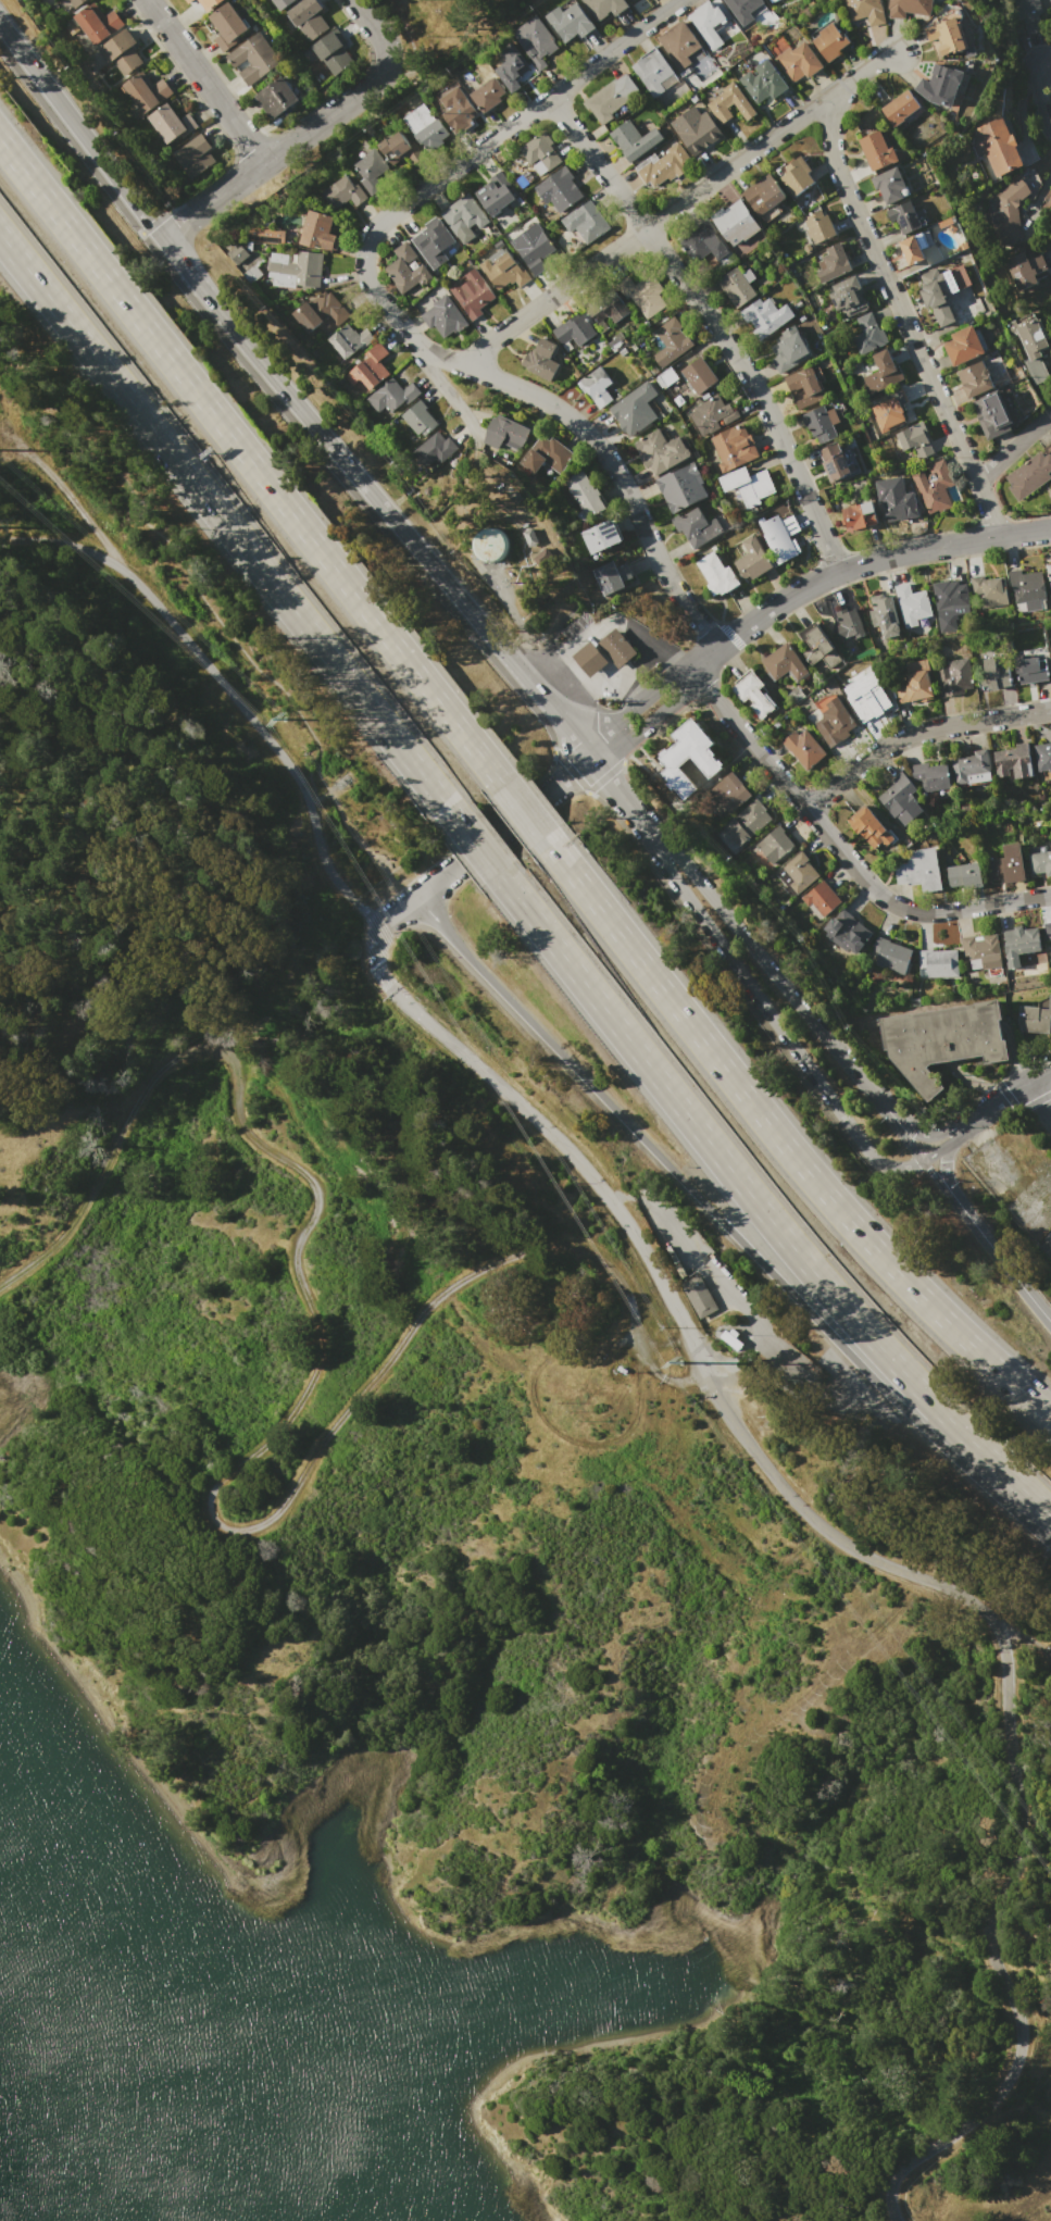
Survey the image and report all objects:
building: (188, 1)
building: (772, 1)
building: (73, 3)
building: (281, 3)
building: (210, 4)
building: (605, 8)
building: (906, 8)
building: (742, 9)
building: (866, 10)
building: (1028, 14)
building: (306, 18)
building: (571, 22)
building: (97, 24)
building: (709, 24)
building: (227, 26)
building: (946, 37)
building: (535, 40)
building: (830, 40)
building: (679, 45)
building: (969, 51)
building: (122, 52)
building: (333, 52)
building: (253, 58)
building: (798, 62)
building: (510, 66)
building: (652, 72)
road: (202, 80)
building: (763, 82)
building: (940, 85)
building: (146, 92)
building: (488, 93)
building: (277, 97)
building: (613, 98)
road: (1037, 99)
building: (730, 103)
building: (900, 107)
building: (458, 109)
building: (417, 117)
building: (166, 122)
building: (189, 122)
road: (303, 129)
building: (367, 129)
building: (696, 129)
building: (431, 135)
building: (634, 139)
building: (1000, 146)
building: (399, 149)
building: (540, 150)
building: (876, 150)
building: (195, 155)
building: (664, 165)
building: (370, 171)
building: (498, 176)
building: (797, 176)
building: (521, 182)
building: (889, 184)
building: (559, 189)
building: (342, 192)
building: (764, 194)
building: (493, 196)
road: (675, 204)
building: (1010, 210)
building: (463, 216)
building: (904, 217)
building: (585, 221)
building: (944, 222)
building: (735, 223)
building: (818, 227)
building: (317, 230)
building: (266, 235)
building: (698, 239)
building: (433, 241)
building: (498, 244)
building: (252, 247)
building: (531, 247)
building: (912, 250)
building: (237, 253)
building: (834, 263)
building: (295, 269)
building: (405, 269)
building: (253, 270)
building: (1023, 270)
building: (503, 271)
building: (736, 286)
building: (942, 290)
building: (472, 294)
building: (642, 294)
building: (848, 297)
building: (605, 304)
building: (329, 308)
road: (898, 311)
building: (308, 316)
road: (392, 316)
building: (443, 316)
building: (765, 316)
road: (710, 323)
building: (574, 330)
building: (867, 334)
building: (349, 339)
building: (670, 340)
building: (964, 345)
building: (789, 349)
building: (1033, 352)
building: (540, 359)
building: (376, 360)
building: (881, 372)
building: (362, 375)
building: (699, 375)
road: (433, 376)
building: (665, 377)
building: (974, 379)
building: (596, 386)
building: (803, 387)
building: (392, 395)
road: (287, 396)
building: (634, 409)
building: (712, 413)
road: (1048, 413)
building: (888, 414)
building: (992, 414)
building: (420, 419)
building: (821, 424)
building: (509, 429)
building: (916, 440)
building: (734, 446)
road: (1011, 446)
building: (435, 449)
building: (659, 450)
building: (547, 454)
road: (251, 462)
building: (837, 467)
building: (1030, 474)
building: (748, 484)
building: (933, 485)
building: (681, 487)
building: (585, 494)
building: (900, 506)
building: (860, 514)
building: (696, 526)
road: (228, 527)
building: (780, 535)
building: (602, 536)
building: (534, 537)
building: (493, 544)
water tower: (490, 548)
road: (80, 549)
building: (752, 560)
road: (855, 565)
building: (716, 574)
building: (1049, 574)
building: (612, 576)
building: (989, 590)
building: (1027, 590)
building: (949, 602)
building: (911, 604)
road: (609, 615)
building: (884, 615)
building: (848, 623)
road: (223, 627)
building: (616, 647)
building: (817, 648)
building: (589, 658)
gas station: (589, 658)
road: (676, 660)
building: (781, 662)
building: (1031, 665)
road: (208, 667)
building: (993, 675)
building: (953, 677)
building: (916, 682)
building: (750, 694)
building: (869, 701)
road: (631, 706)
power tower: (283, 719)
building: (835, 722)
road: (648, 724)
road: (916, 734)
building: (803, 748)
building: (1042, 756)
building: (689, 757)
building: (1013, 761)
building: (971, 768)
building: (931, 776)
road: (614, 782)
building: (729, 790)
building: (900, 799)
road: (523, 810)
building: (746, 822)
road: (502, 826)
building: (872, 827)
building: (774, 844)
road: (476, 846)
road: (840, 852)
building: (1039, 860)
building: (1006, 864)
building: (919, 869)
building: (798, 872)
building: (963, 875)
building: (819, 900)
road: (397, 910)
building: (846, 932)
building: (1047, 932)
building: (1018, 943)
building: (983, 952)
building: (890, 954)
building: (938, 962)
road: (780, 985)
road: (767, 1008)
building: (1034, 1016)
building: (942, 1040)
road: (1039, 1096)
road: (985, 1110)
road: (780, 1139)
road: (947, 1175)
road: (942, 1184)
road: (759, 1207)
road: (726, 1226)
building: (1048, 1238)
road: (1006, 1265)
road: (717, 1275)
building: (698, 1295)
road: (788, 1357)
power tower: (679, 1361)
road: (278, 1435)
road: (863, 1549)
road: (1026, 1638)

